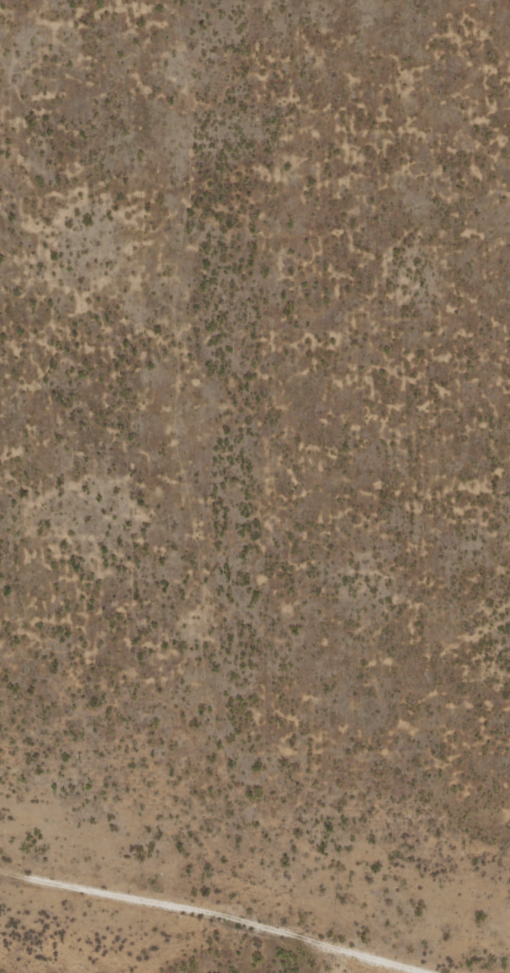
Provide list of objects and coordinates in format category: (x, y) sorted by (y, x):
road: (140, 926)

